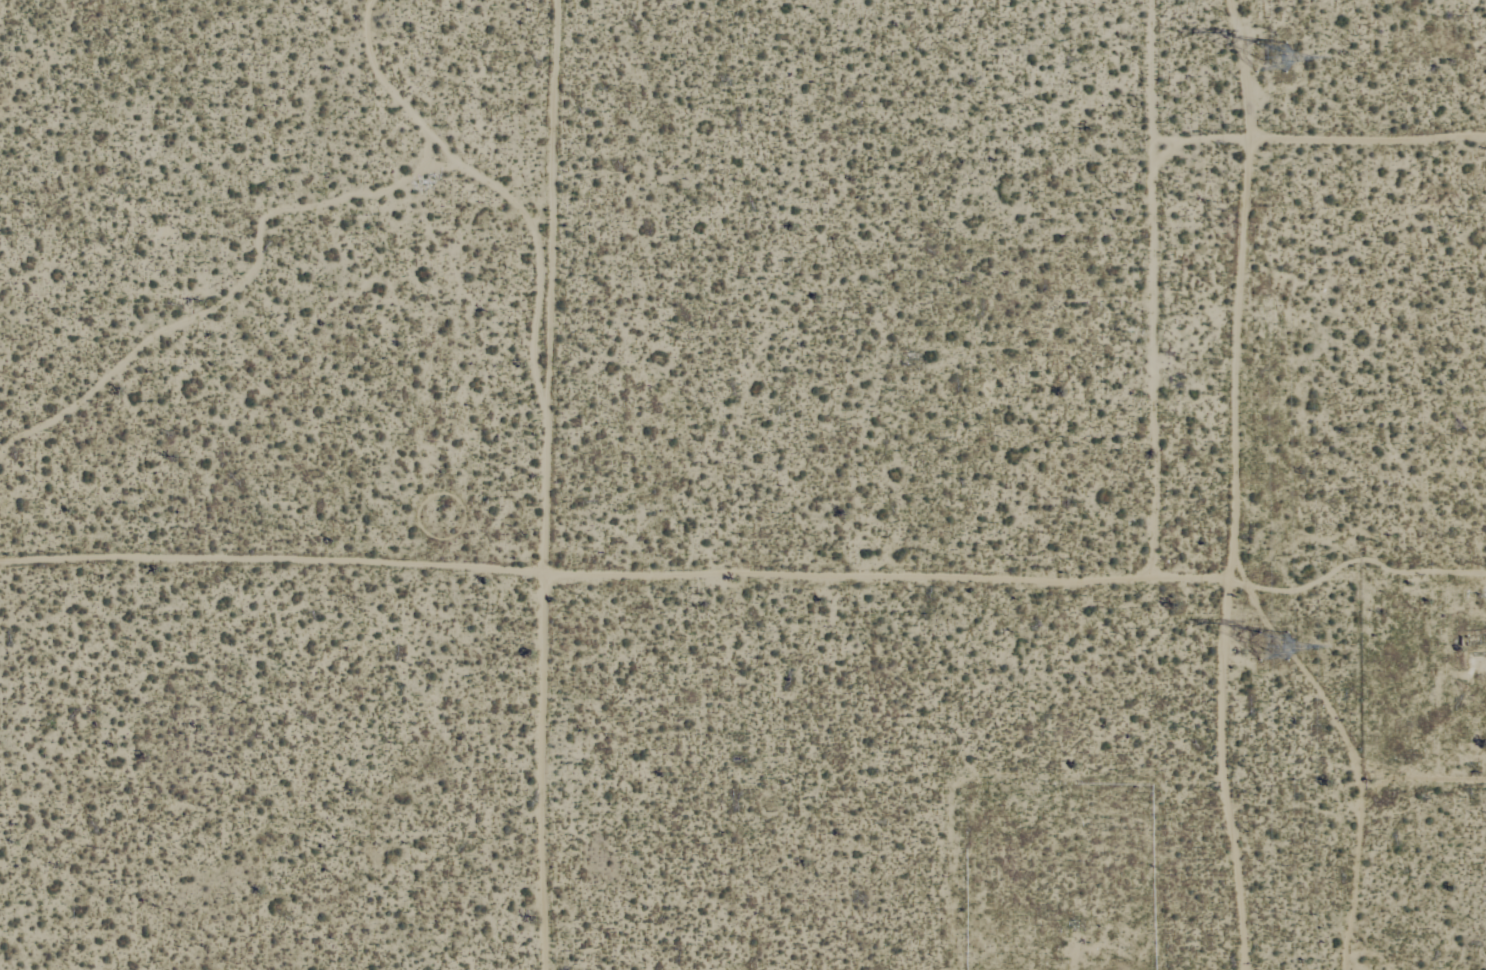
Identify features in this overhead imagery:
power tower: (1261, 49)
road: (1415, 83)
road: (1244, 133)
road: (1004, 298)
road: (271, 559)
road: (773, 584)
power tower: (1257, 648)
road: (540, 773)

